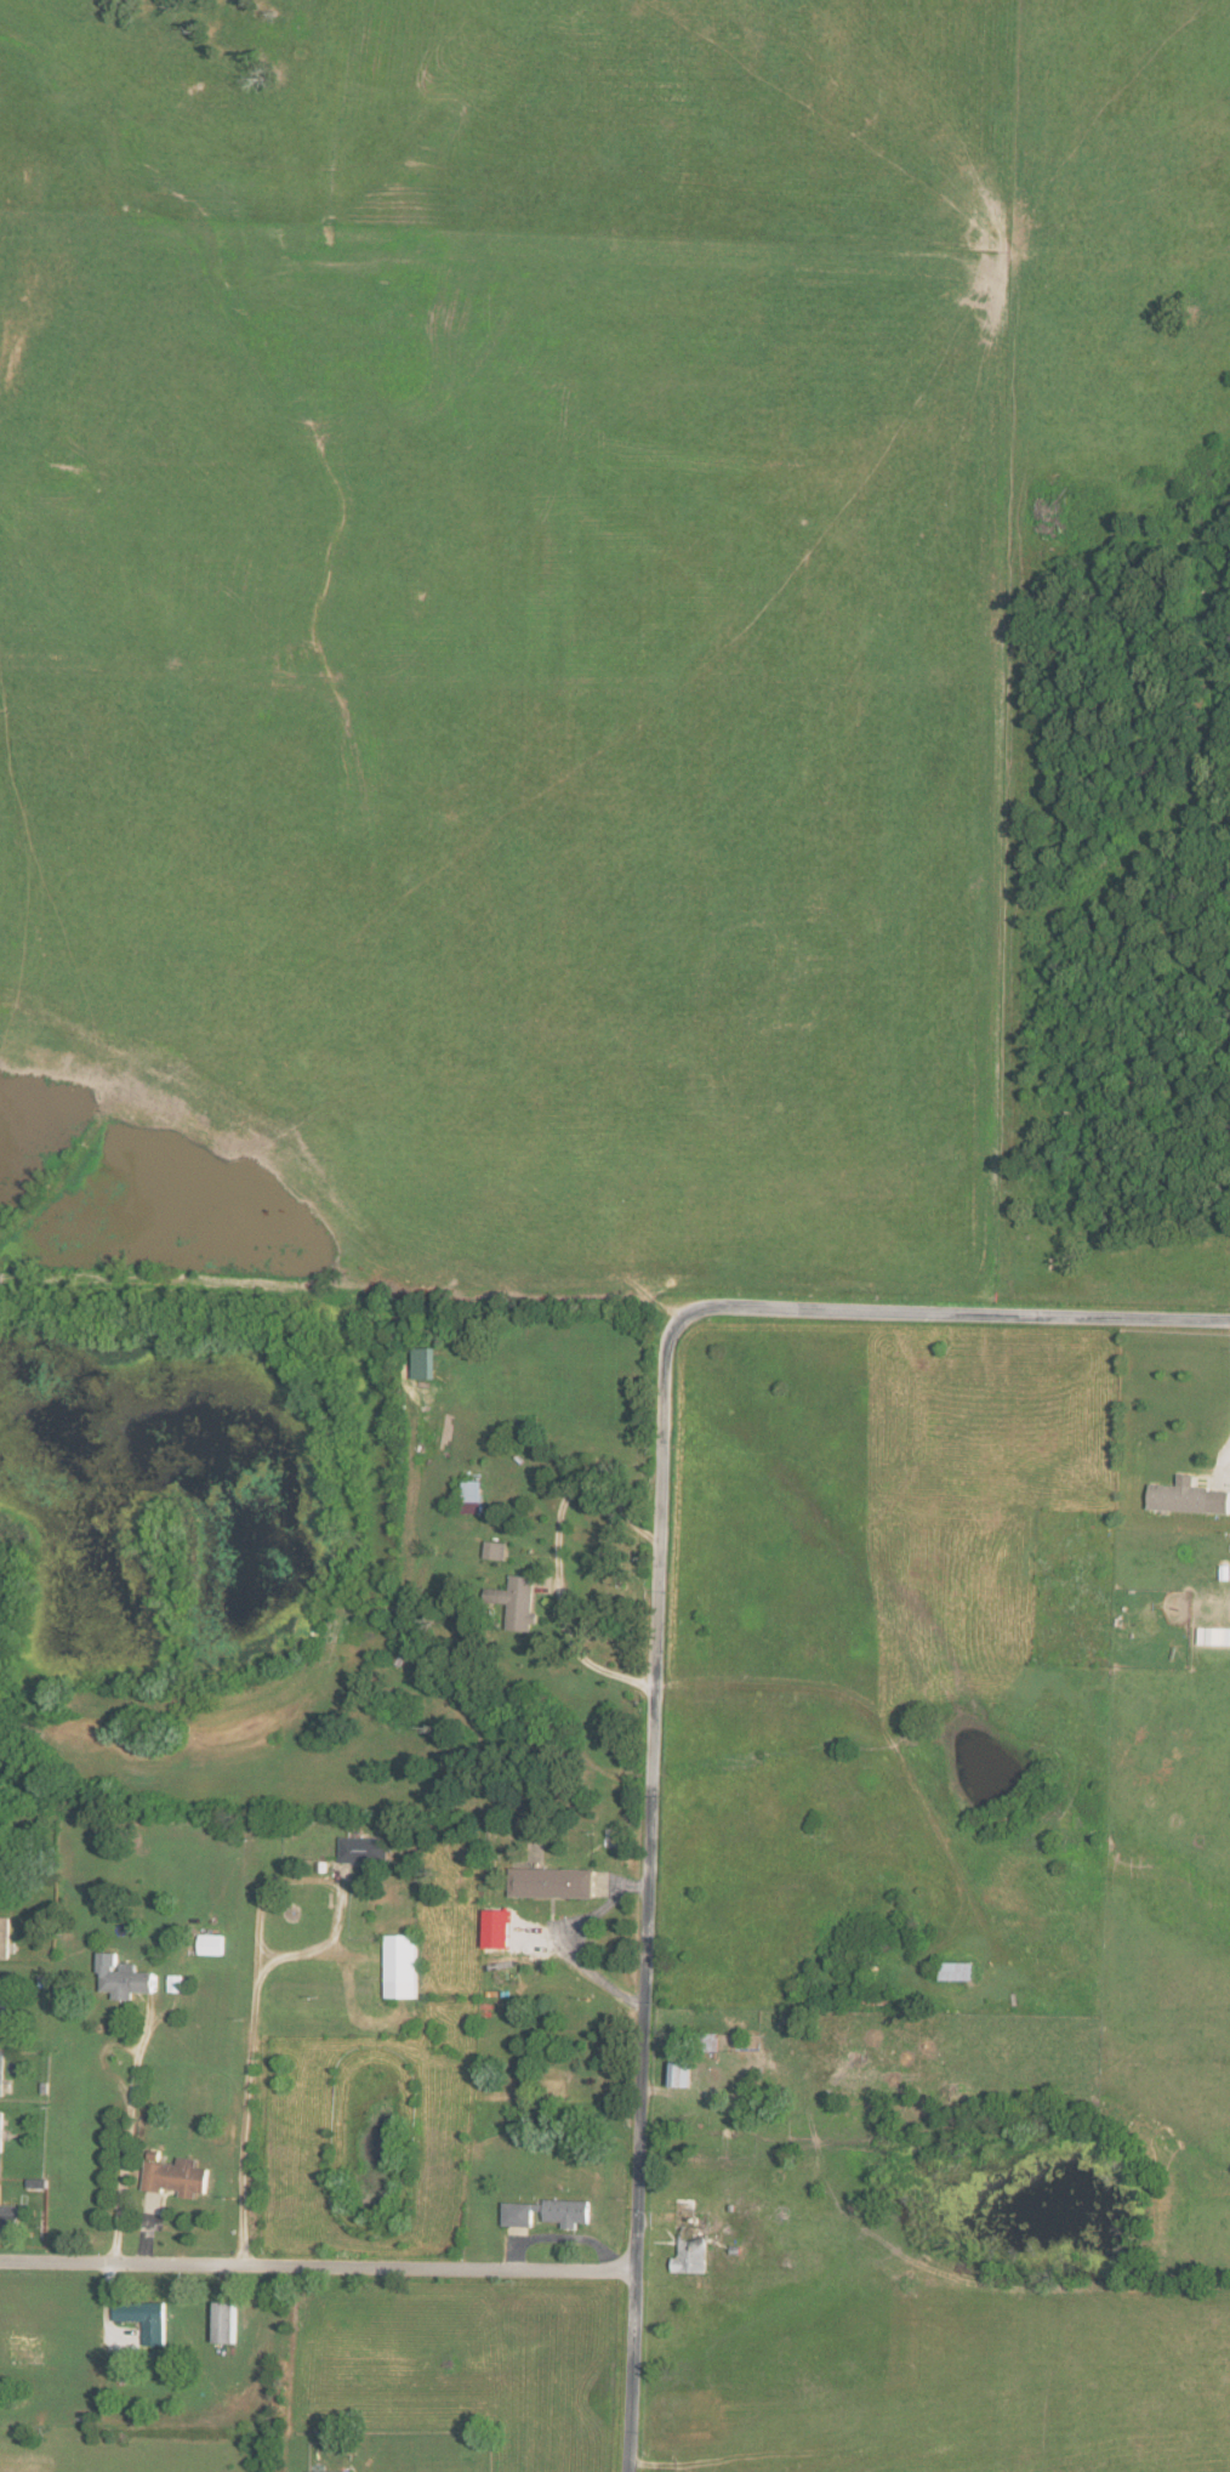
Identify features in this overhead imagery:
road: (957, 1318)
building: (425, 1363)
building: (473, 1496)
building: (1189, 1498)
road: (1212, 1519)
building: (497, 1550)
road: (558, 1555)
building: (518, 1602)
building: (1214, 1636)
road: (649, 1794)
building: (365, 1849)
building: (553, 1883)
road: (336, 1889)
building: (5, 1938)
building: (212, 1944)
road: (568, 1948)
building: (403, 1967)
building: (956, 1971)
building: (125, 1978)
building: (4, 2005)
building: (711, 2042)
road: (252, 2045)
building: (2, 2074)
building: (681, 2075)
road: (130, 2129)
building: (2, 2132)
building: (177, 2176)
building: (548, 2214)
building: (8, 2216)
building: (694, 2256)
road: (318, 2269)
building: (144, 2320)
building: (227, 2324)
road: (632, 2376)
building: (334, 2471)

